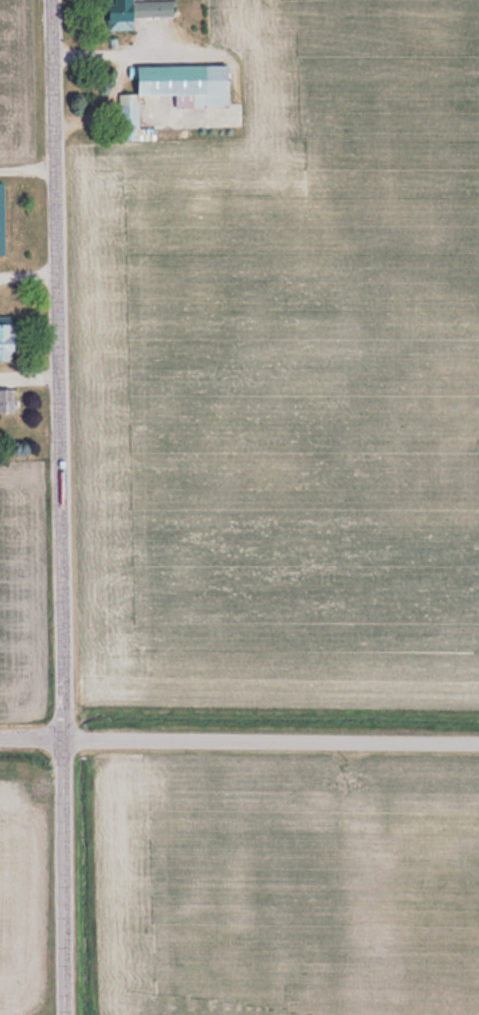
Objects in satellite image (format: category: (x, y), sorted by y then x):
building: (133, 11)
building: (171, 90)
building: (1, 256)
building: (6, 337)
building: (6, 399)
road: (61, 507)
road: (41, 743)
road: (281, 746)

